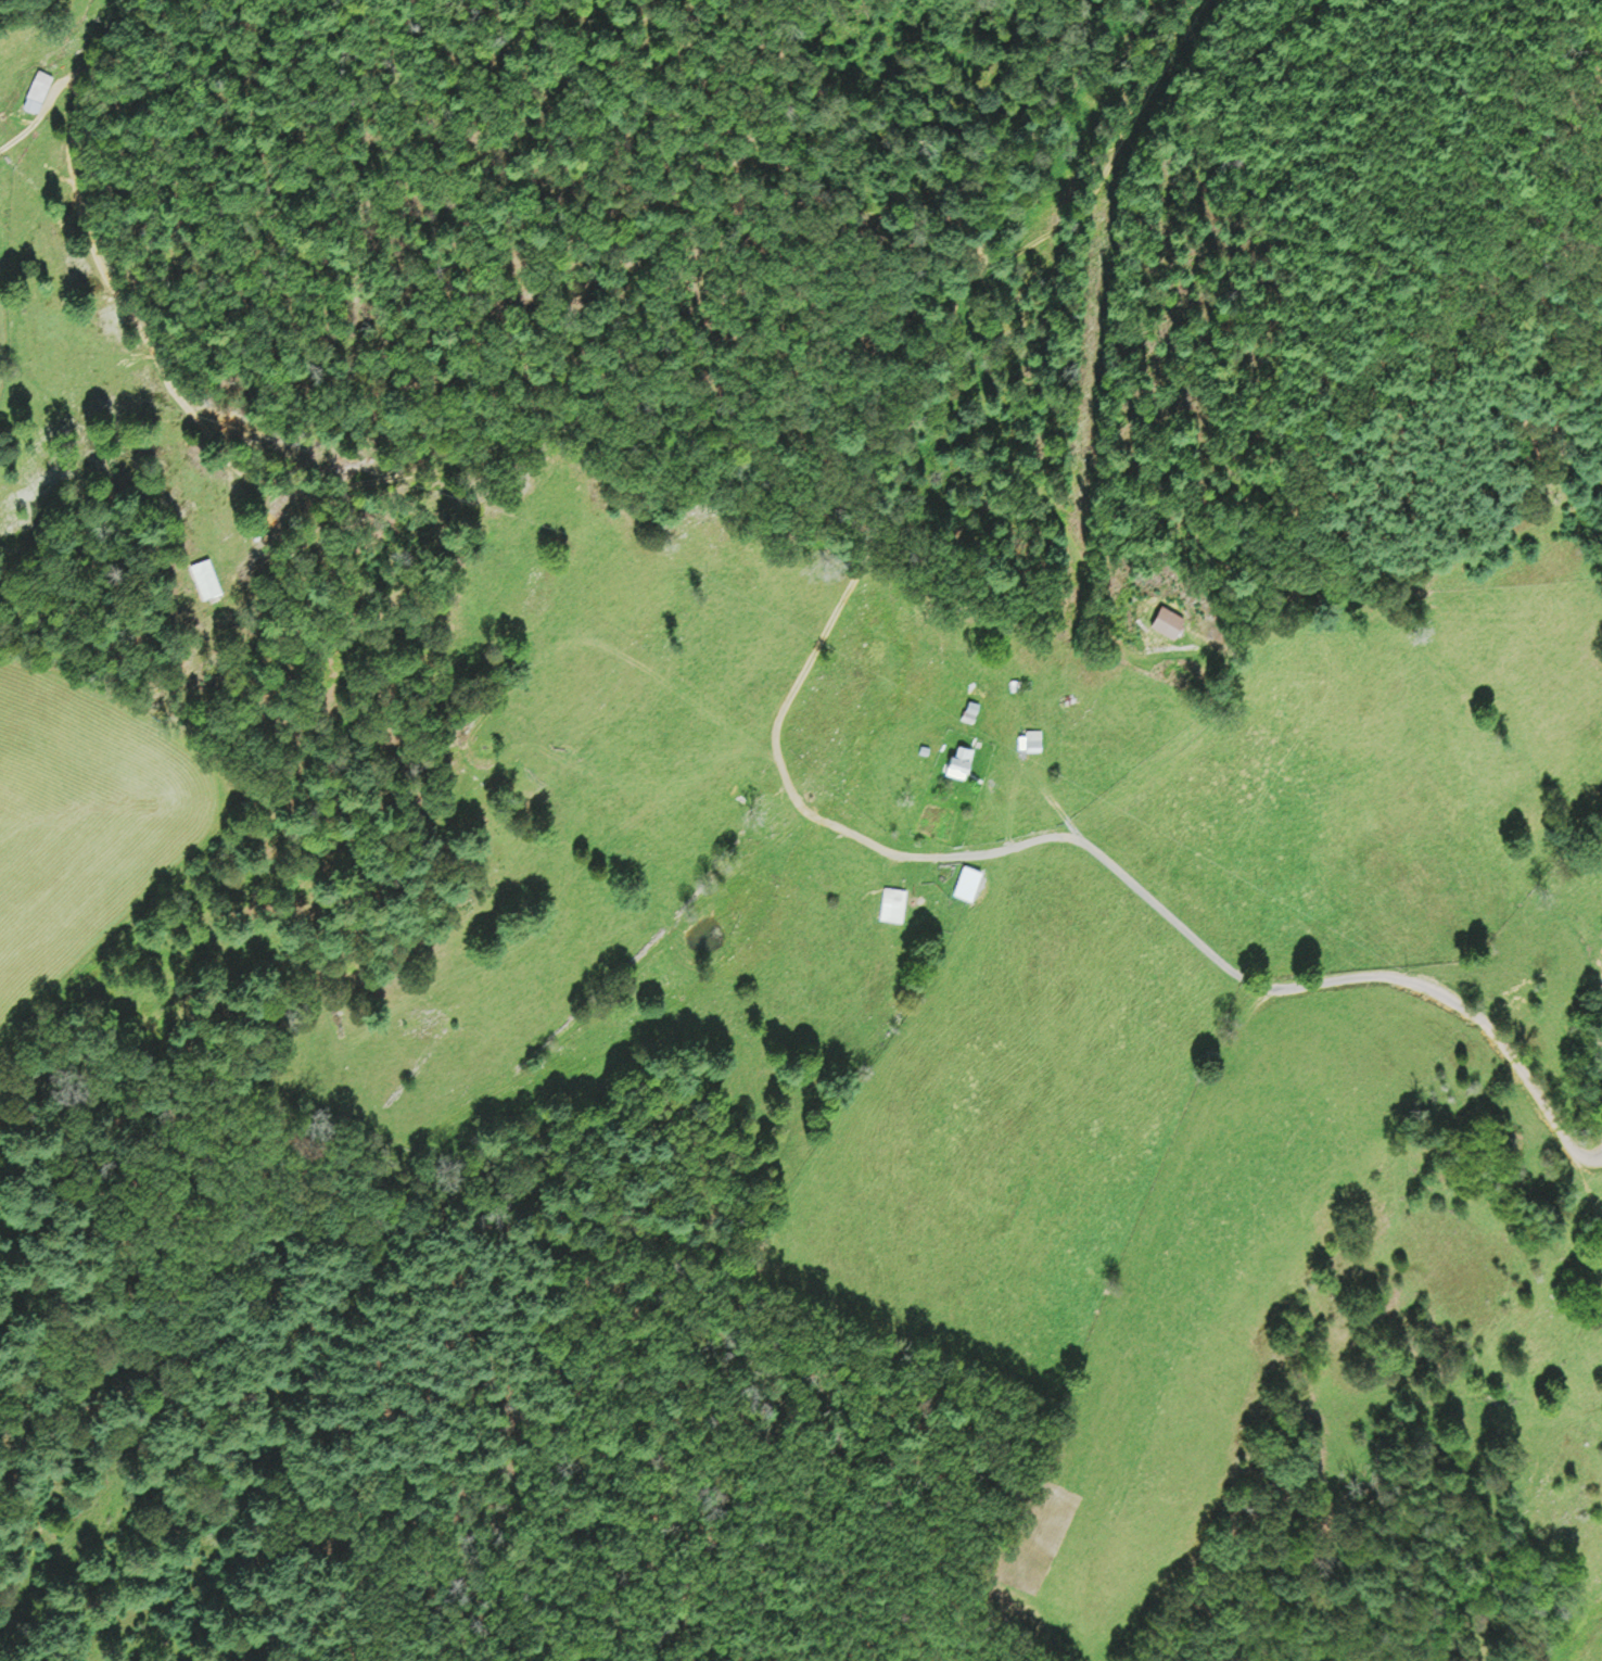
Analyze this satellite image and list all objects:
building: (38, 90)
road: (913, 424)
road: (303, 484)
building: (1167, 621)
building: (971, 711)
building: (1033, 740)
building: (924, 749)
building: (961, 759)
building: (966, 880)
building: (893, 903)
road: (1259, 988)
road: (1598, 1074)
road: (373, 1191)

